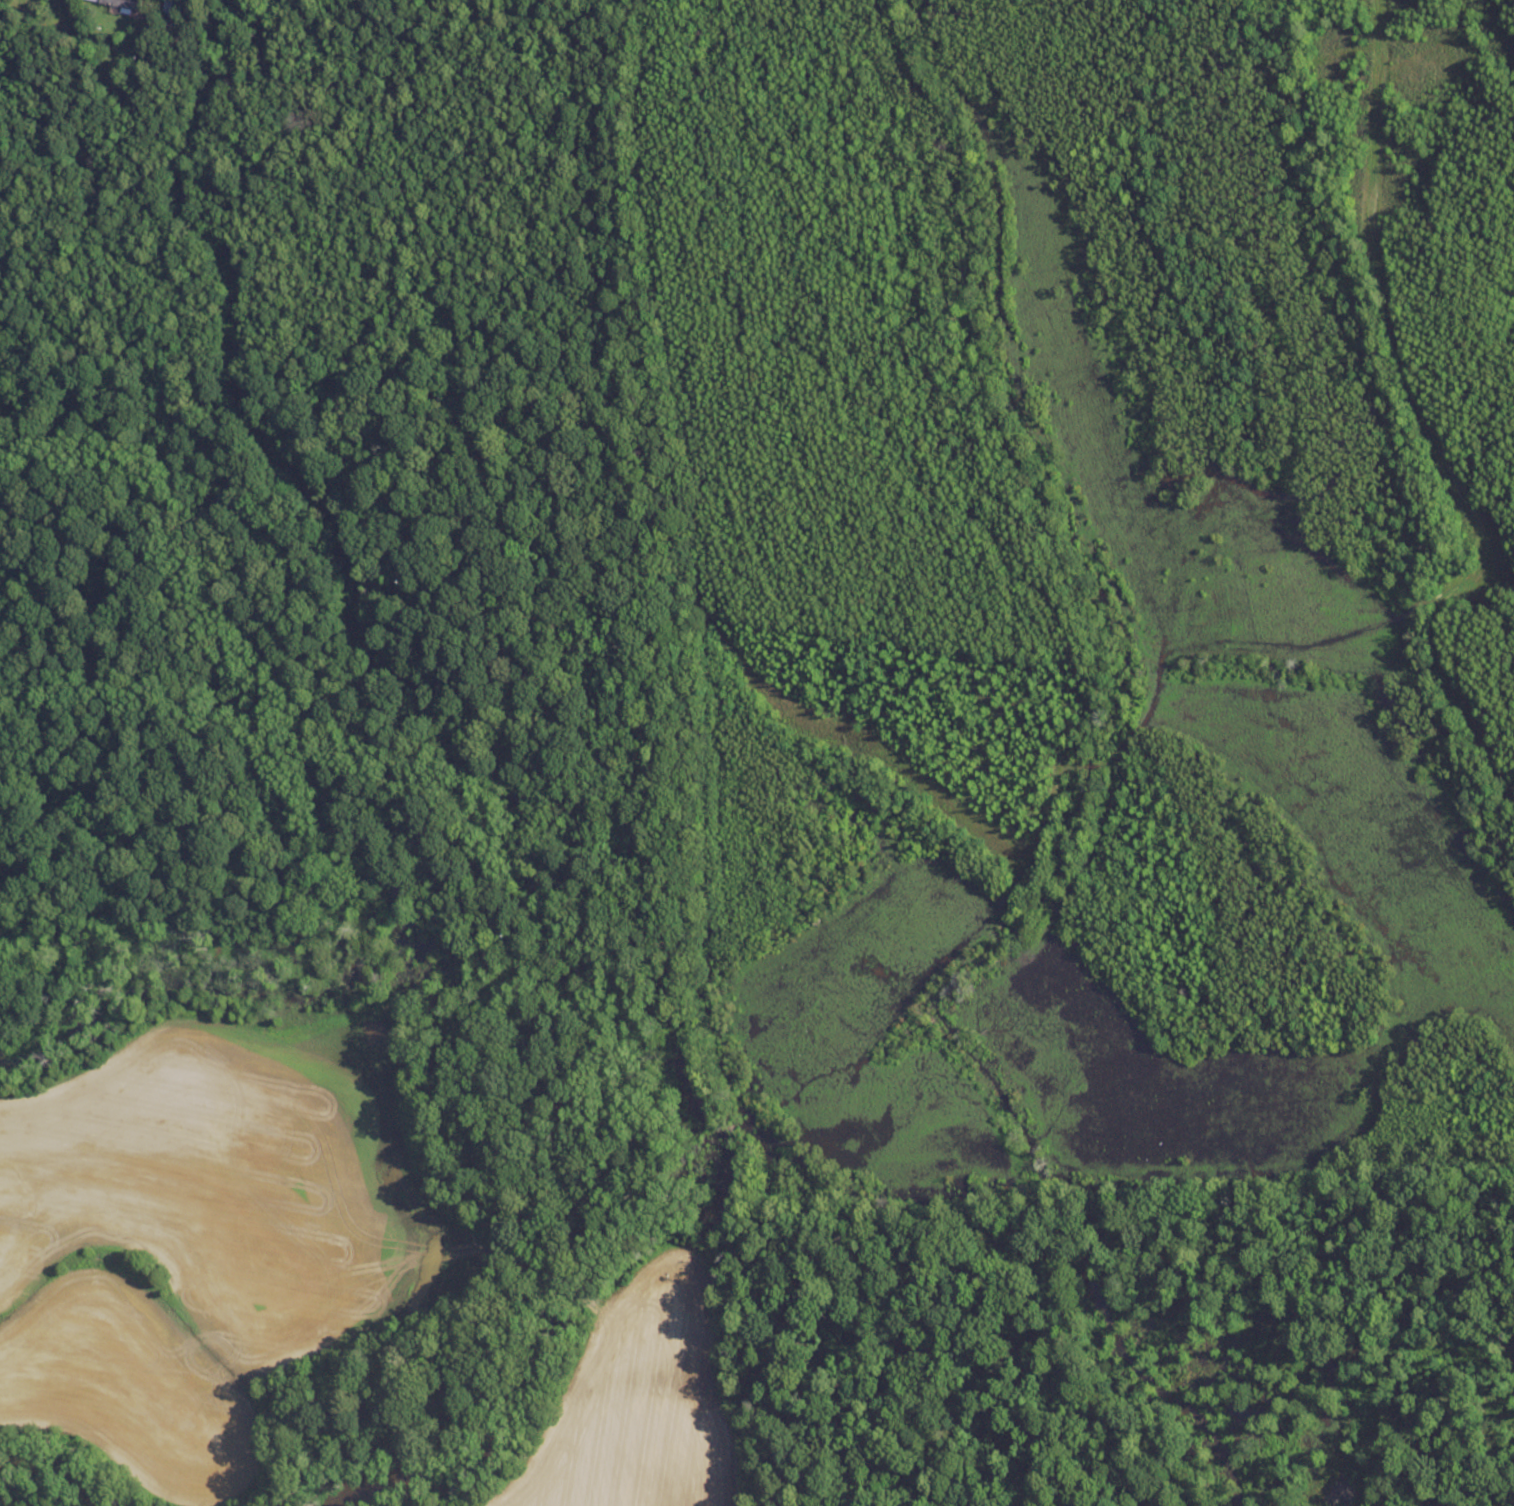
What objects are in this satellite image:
building: (124, 3)
road: (581, 1356)

